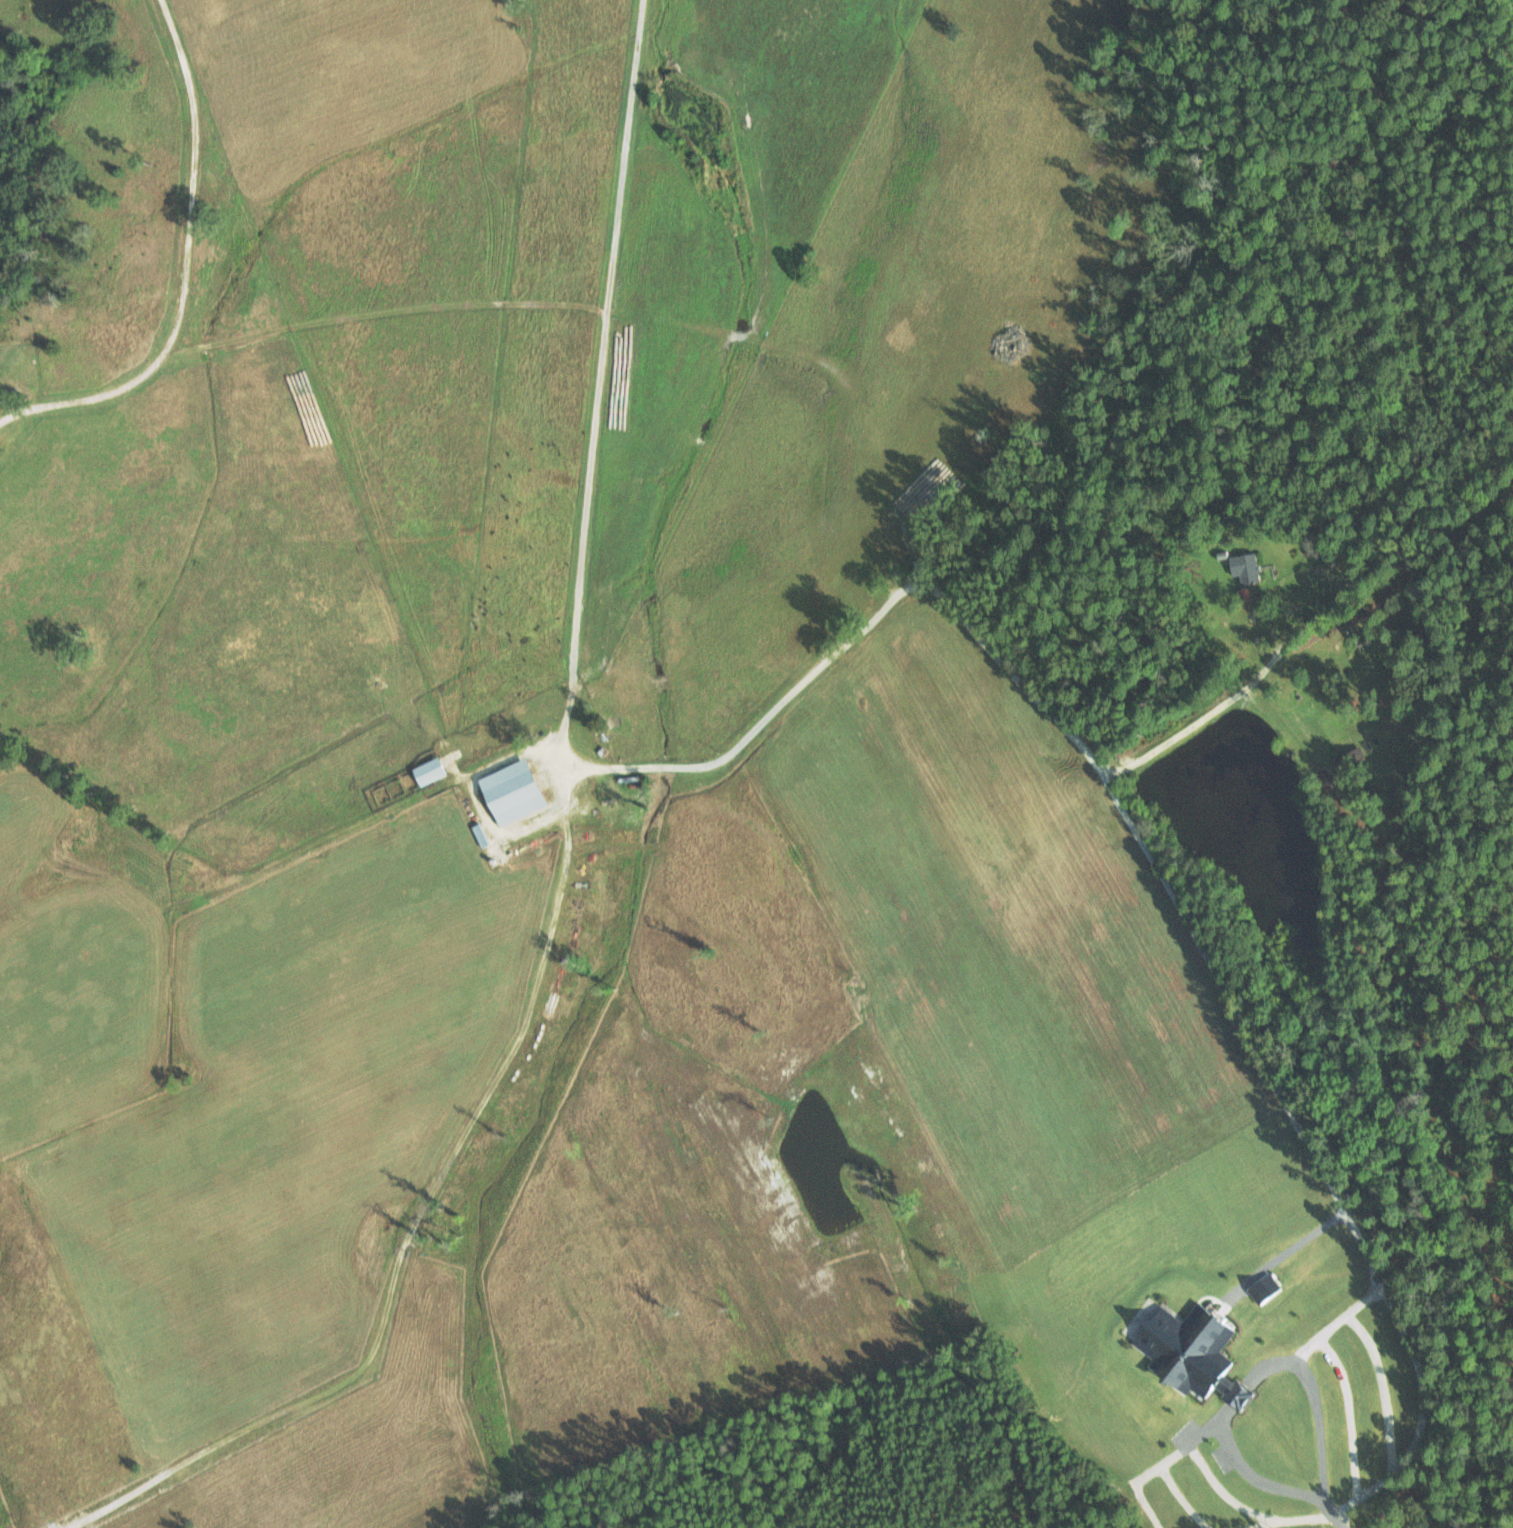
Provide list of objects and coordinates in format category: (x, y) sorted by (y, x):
building: (1245, 568)
building: (429, 772)
building: (511, 792)
building: (1192, 1353)

